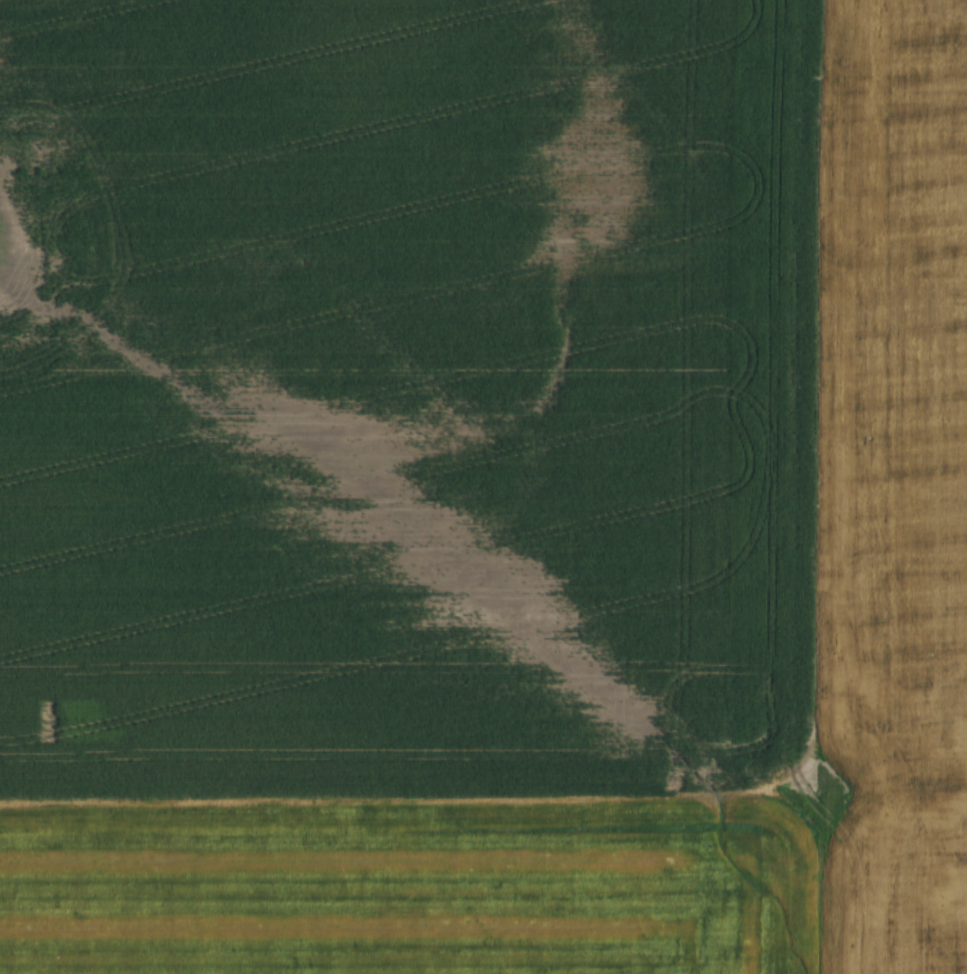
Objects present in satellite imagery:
road: (830, 374)

